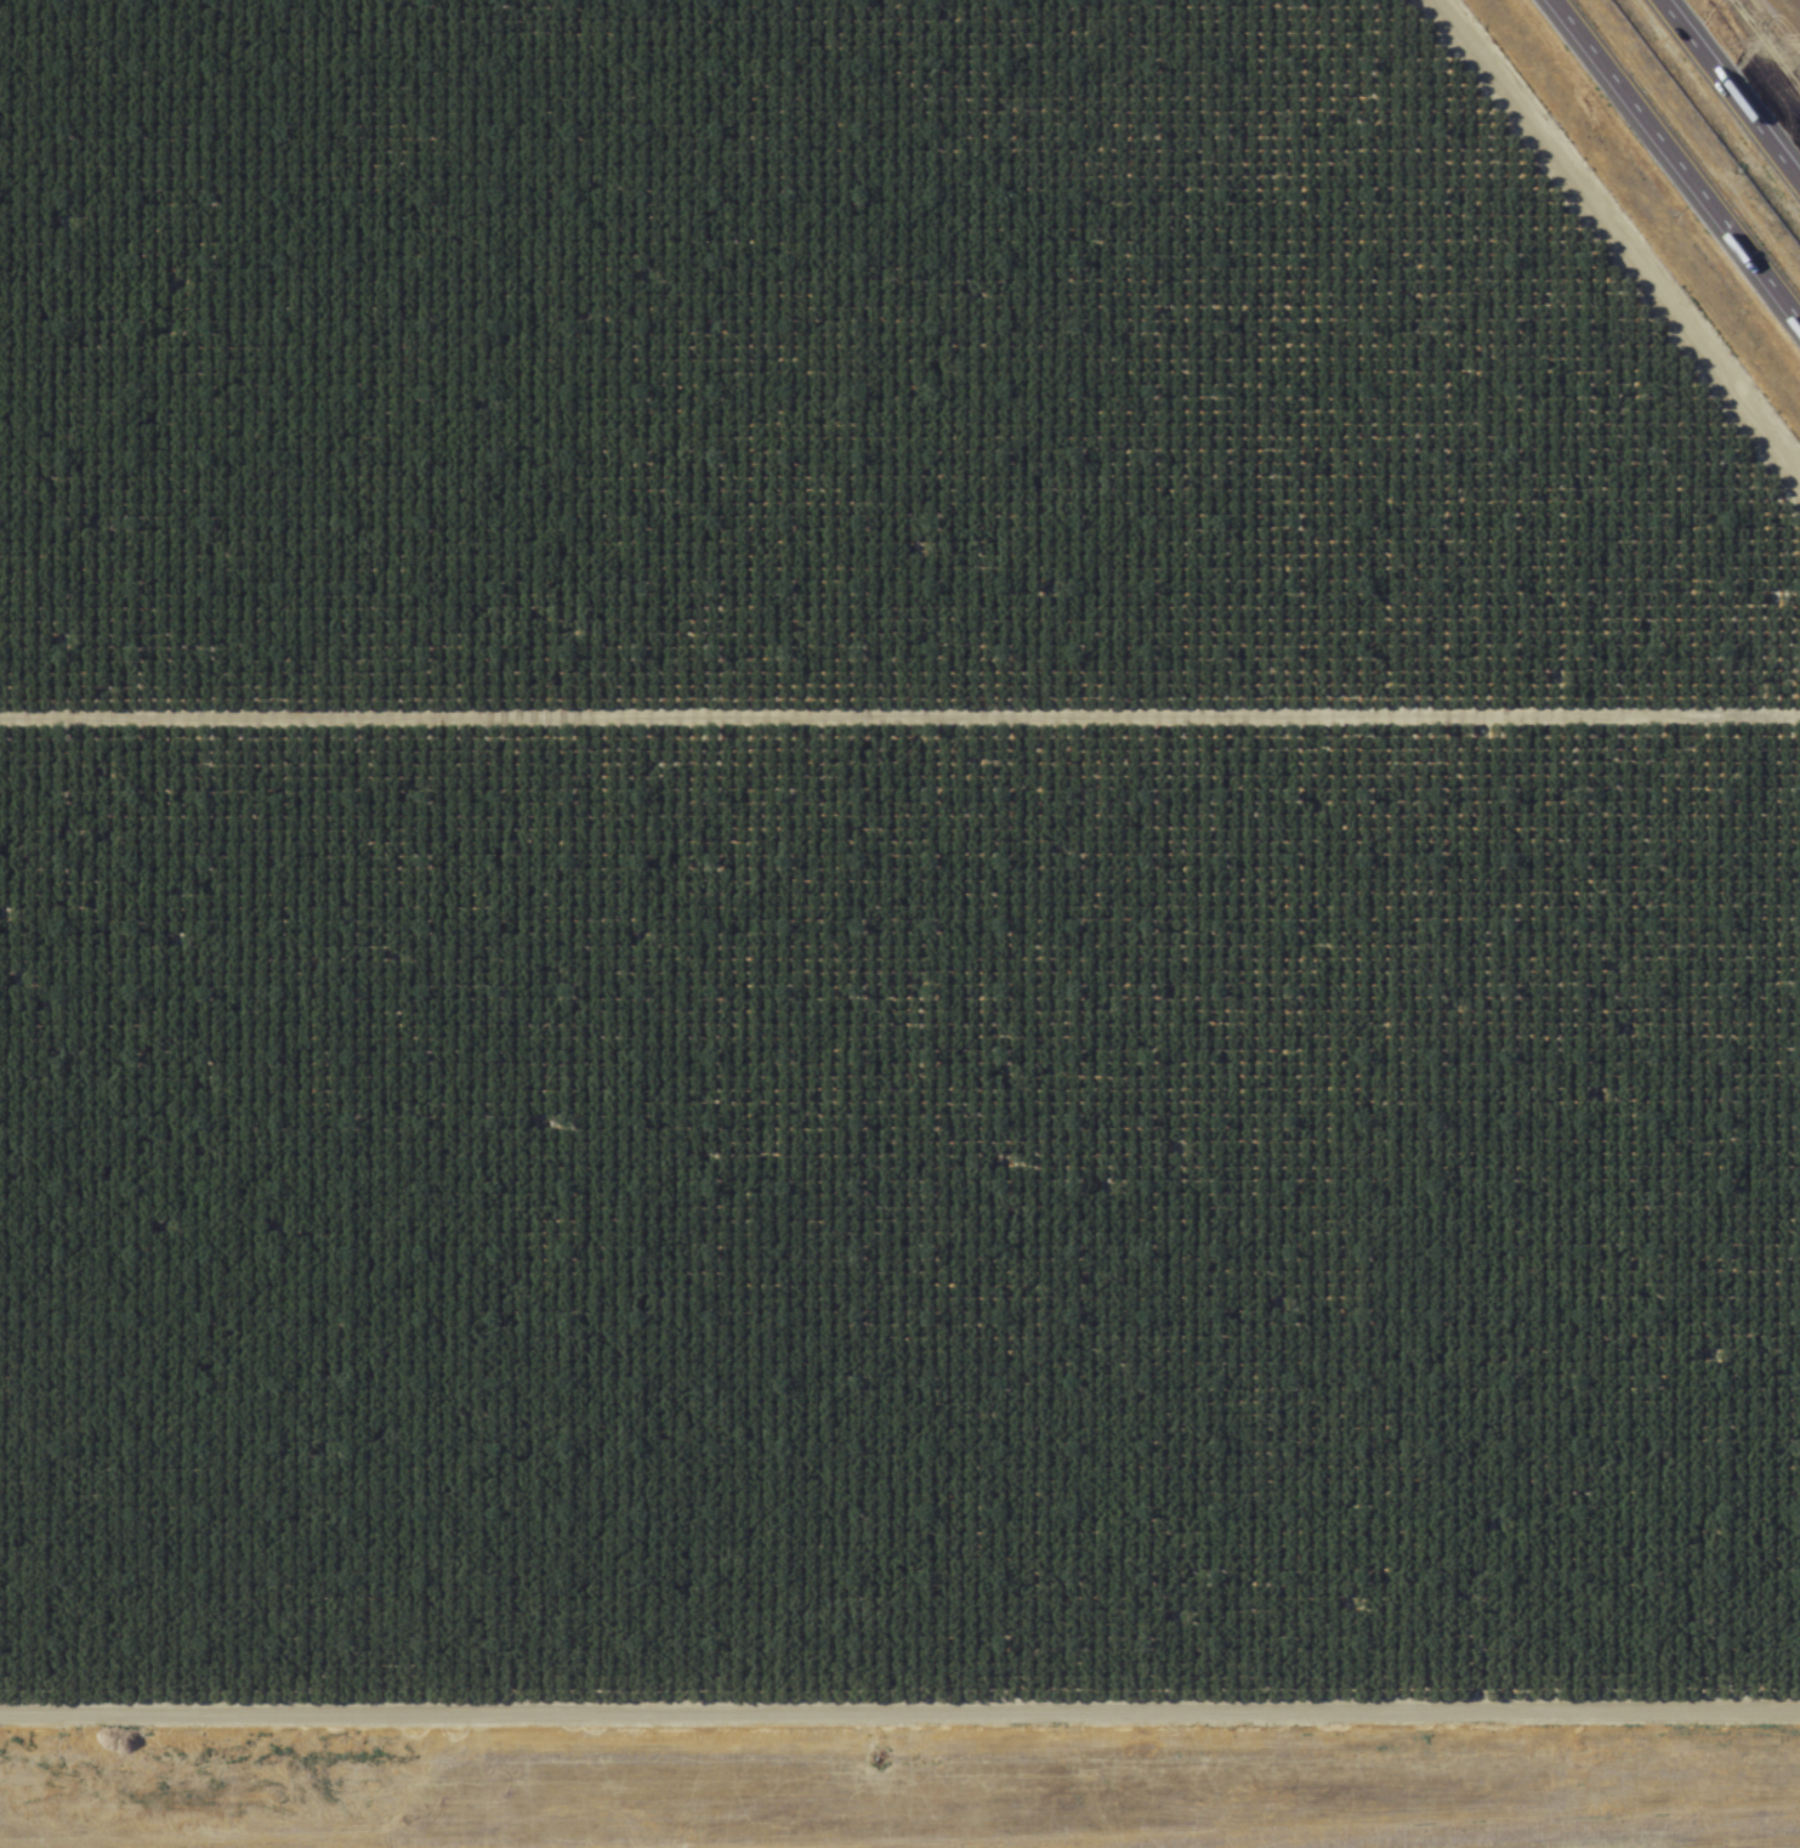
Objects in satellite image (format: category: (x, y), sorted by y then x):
road: (1760, 51)
road: (1731, 89)
road: (1675, 161)
crop: (876, 880)
road: (899, 1689)

